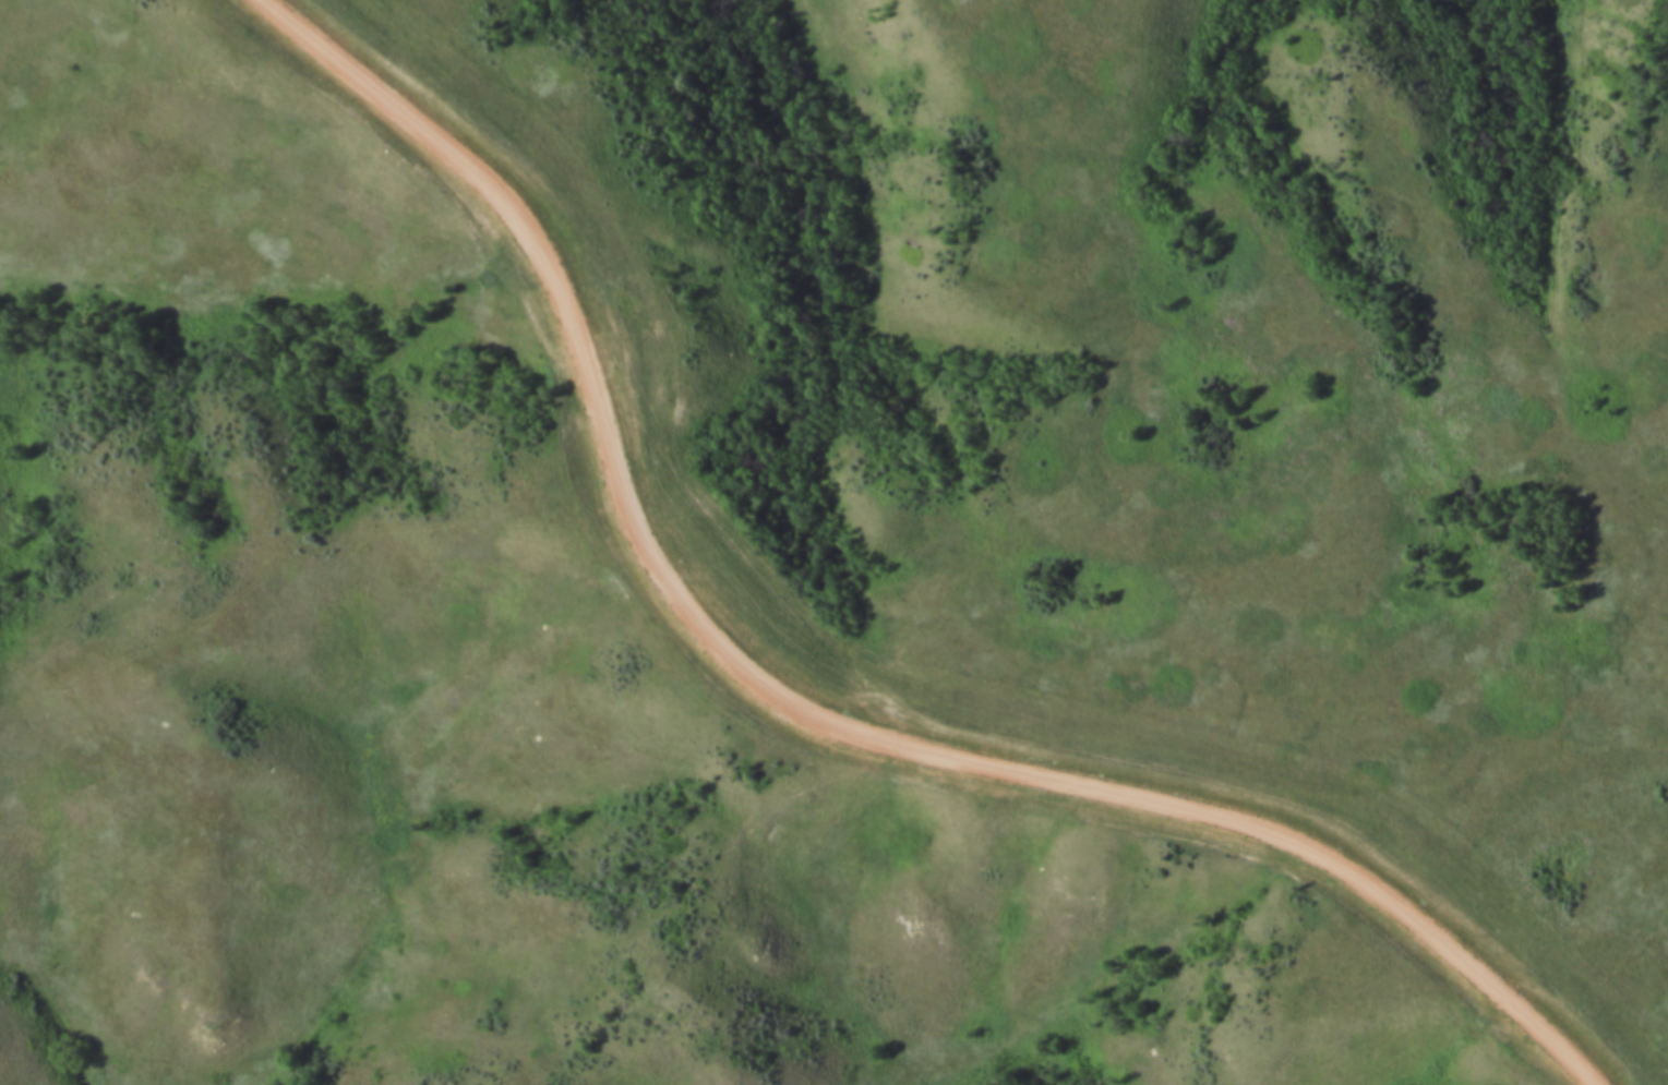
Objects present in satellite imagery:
road: (333, 544)
road: (809, 698)

